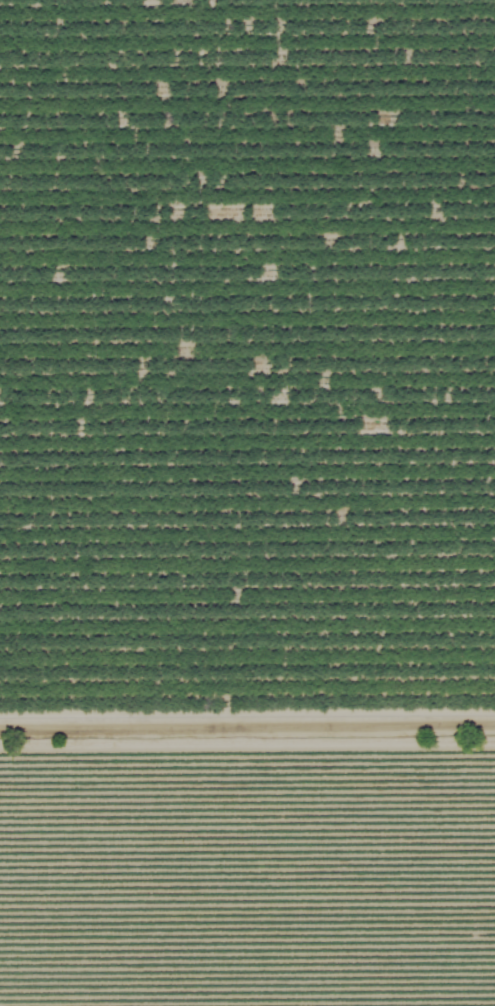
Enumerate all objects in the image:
road: (212, 725)
road: (10, 983)

